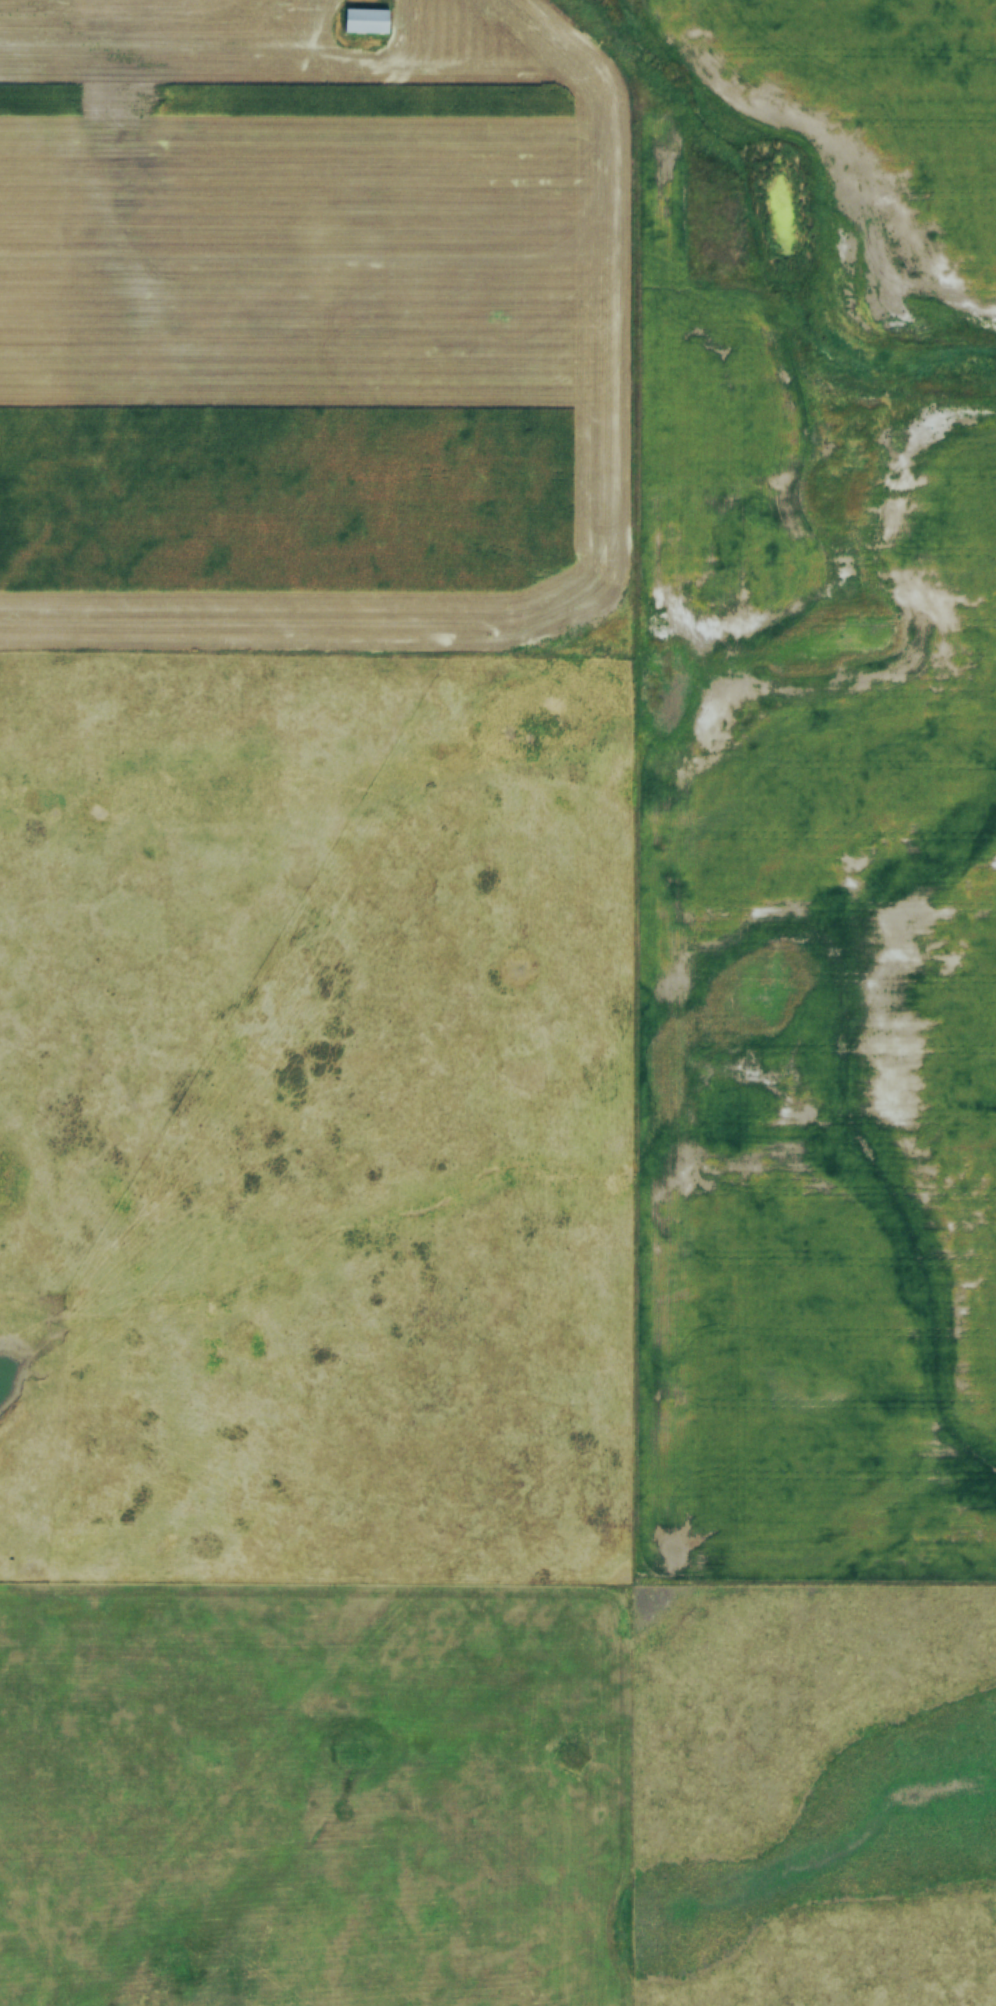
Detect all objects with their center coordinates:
building: (365, 20)
crop: (317, 348)

